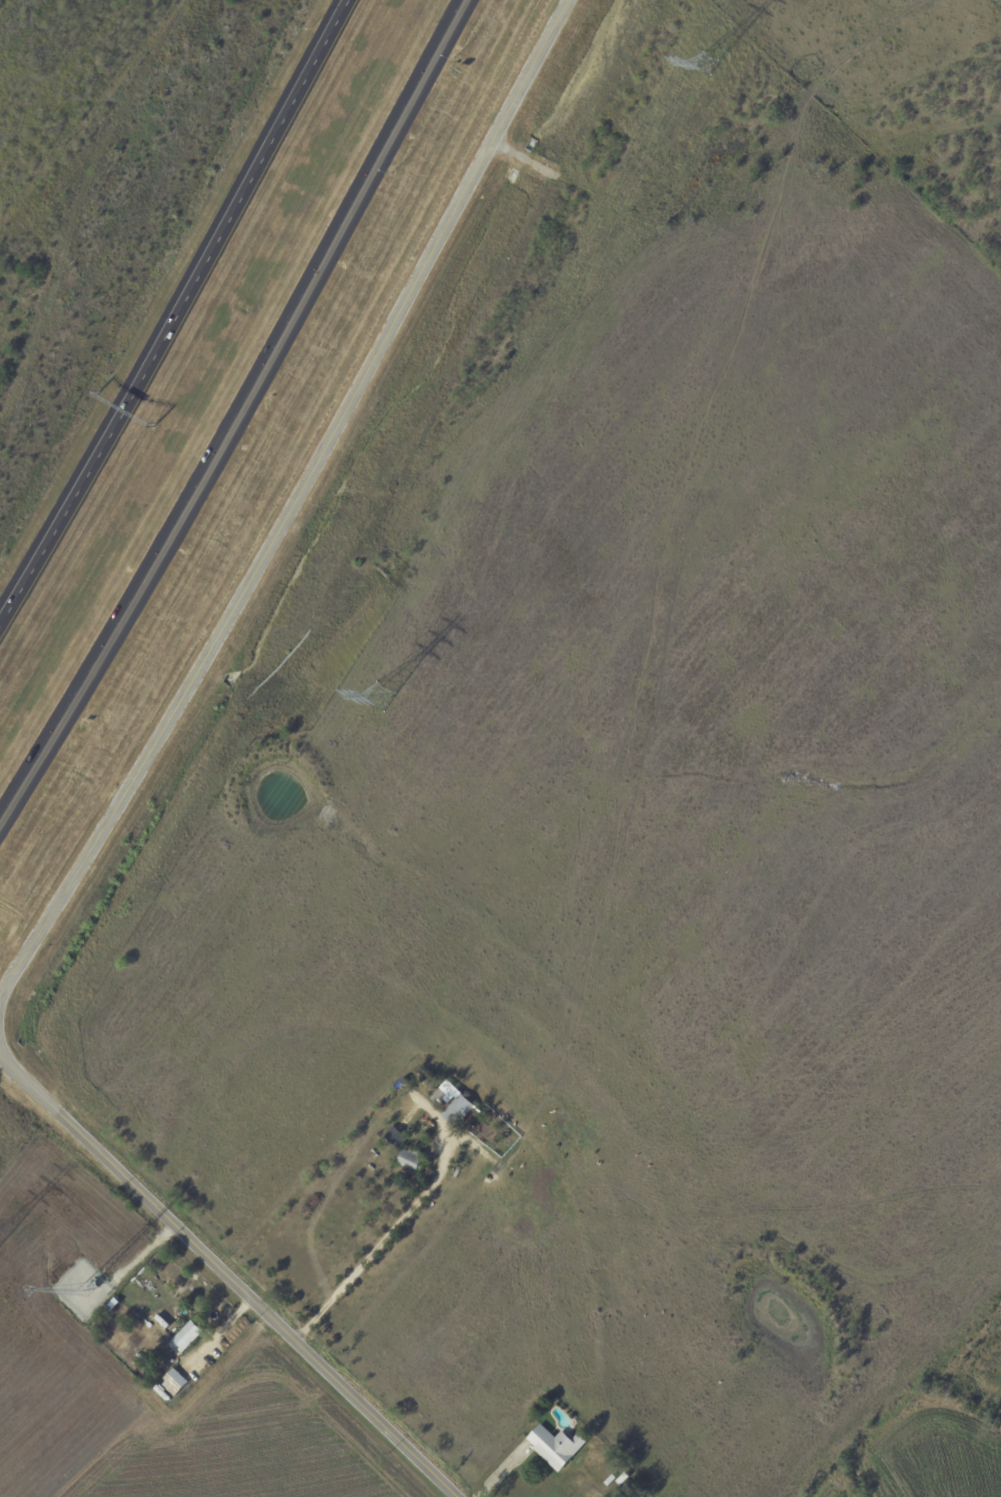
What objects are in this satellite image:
power tower: (705, 70)
road: (178, 312)
road: (238, 413)
road: (290, 500)
power tower: (380, 698)
building: (456, 1107)
building: (397, 1137)
building: (411, 1159)
road: (378, 1244)
road: (222, 1275)
building: (92, 1285)
building: (186, 1338)
building: (149, 1365)
building: (174, 1382)
building: (556, 1447)
road: (505, 1475)
building: (623, 1479)
building: (585, 1487)
building: (636, 1496)

